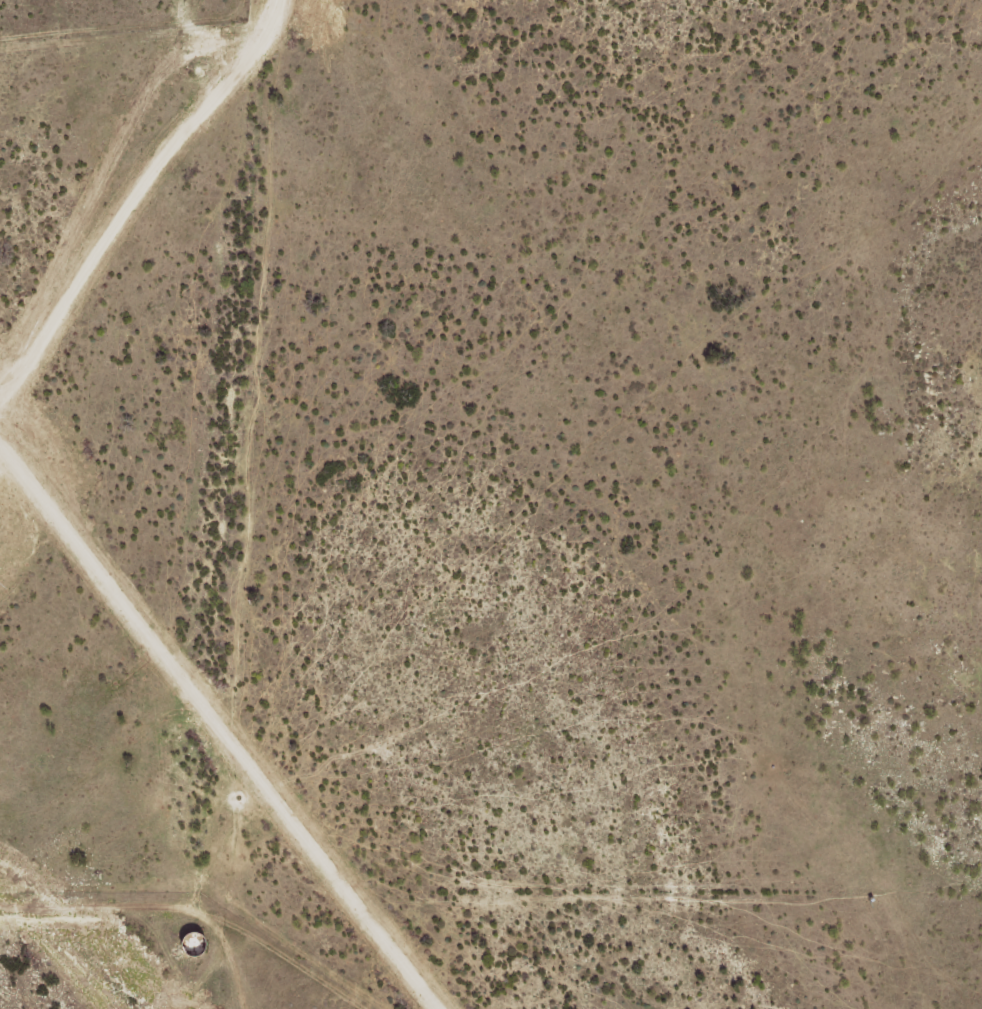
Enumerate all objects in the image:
road: (122, 951)

